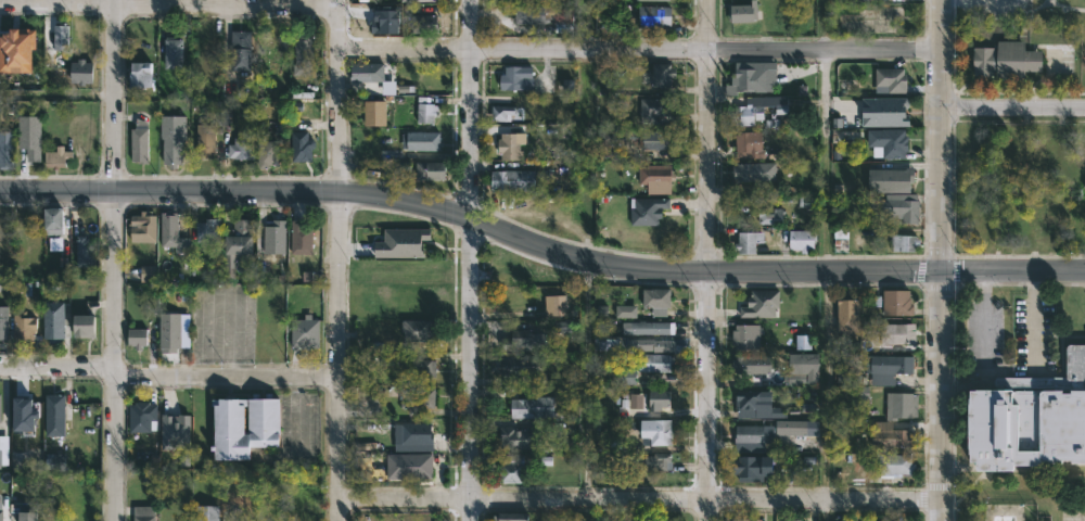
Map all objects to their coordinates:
building: (425, 0)
building: (516, 0)
building: (643, 0)
road: (168, 5)
building: (743, 12)
building: (546, 16)
building: (654, 16)
building: (424, 23)
building: (61, 36)
building: (272, 39)
park: (1083, 47)
building: (16, 49)
road: (641, 49)
building: (240, 50)
building: (173, 52)
building: (303, 54)
building: (1007, 60)
building: (85, 71)
building: (363, 72)
building: (663, 74)
building: (140, 75)
building: (515, 77)
building: (753, 78)
building: (891, 80)
road: (56, 93)
road: (1014, 106)
building: (653, 109)
building: (758, 109)
building: (426, 112)
building: (885, 112)
building: (374, 113)
building: (505, 113)
building: (29, 136)
building: (171, 139)
building: (605, 139)
building: (656, 139)
building: (206, 140)
building: (421, 140)
building: (890, 141)
building: (139, 142)
building: (750, 144)
building: (302, 145)
building: (510, 145)
building: (241, 148)
building: (7, 149)
building: (267, 152)
building: (56, 157)
road: (826, 160)
building: (396, 168)
building: (430, 170)
building: (755, 170)
building: (656, 178)
building: (893, 179)
building: (513, 180)
road: (237, 190)
building: (902, 206)
building: (648, 209)
building: (770, 215)
building: (53, 218)
building: (143, 227)
building: (208, 230)
building: (170, 231)
building: (275, 237)
building: (301, 238)
building: (802, 240)
building: (748, 242)
building: (904, 242)
building: (54, 243)
building: (401, 244)
building: (238, 245)
building: (86, 251)
road: (115, 259)
road: (336, 259)
road: (471, 259)
road: (710, 259)
road: (944, 260)
road: (774, 270)
building: (148, 274)
building: (3, 284)
building: (659, 301)
building: (895, 302)
building: (762, 304)
building: (557, 305)
road: (212, 306)
building: (626, 310)
road: (984, 314)
building: (848, 316)
road: (1034, 320)
building: (53, 321)
building: (4, 322)
building: (90, 326)
building: (23, 327)
building: (562, 327)
building: (647, 328)
building: (600, 329)
building: (416, 330)
parking lot: (982, 332)
building: (305, 333)
building: (904, 333)
parking lot: (1034, 333)
building: (168, 334)
building: (748, 336)
building: (135, 340)
building: (525, 341)
building: (802, 341)
building: (633, 344)
building: (660, 363)
road: (234, 364)
building: (753, 365)
building: (520, 367)
building: (842, 367)
building: (424, 368)
building: (889, 368)
road: (167, 369)
building: (803, 369)
building: (625, 377)
road: (586, 379)
building: (417, 399)
building: (660, 399)
building: (635, 401)
building: (758, 405)
building: (902, 406)
building: (532, 407)
building: (0, 408)
building: (54, 408)
building: (25, 409)
road: (298, 415)
building: (141, 416)
building: (1032, 420)
building: (245, 425)
building: (796, 427)
building: (176, 430)
building: (658, 431)
building: (750, 433)
building: (890, 435)
building: (413, 437)
building: (601, 439)
building: (516, 440)
building: (365, 445)
building: (3, 452)
building: (54, 461)
building: (658, 461)
building: (409, 466)
building: (895, 466)
building: (753, 468)
building: (511, 469)
road: (639, 499)
building: (1, 507)
building: (27, 512)
building: (144, 512)
building: (207, 513)
park: (1072, 514)
building: (511, 516)
building: (767, 516)
building: (792, 520)
building: (871, 520)

